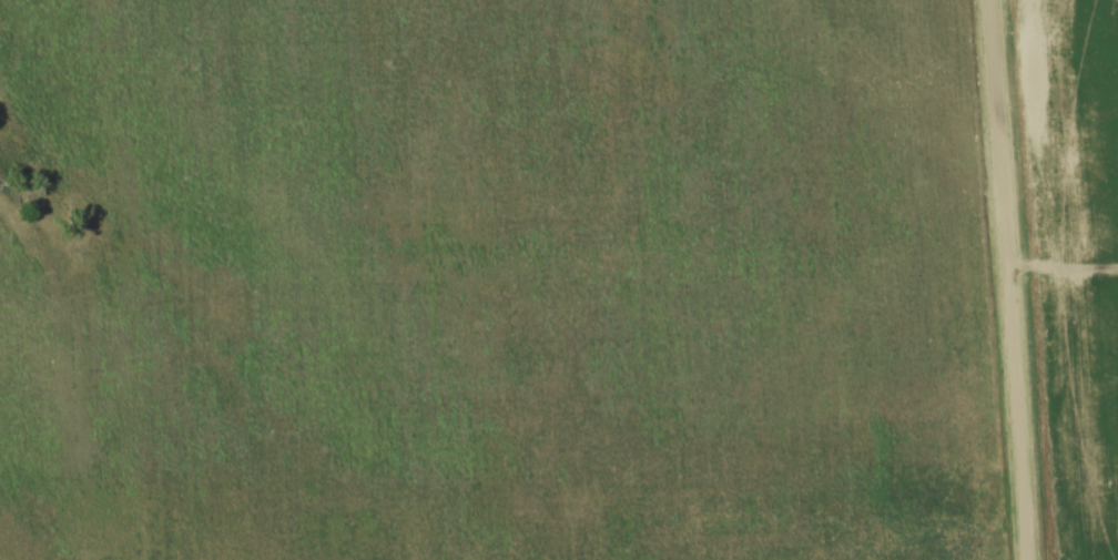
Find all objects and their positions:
road: (1013, 279)

